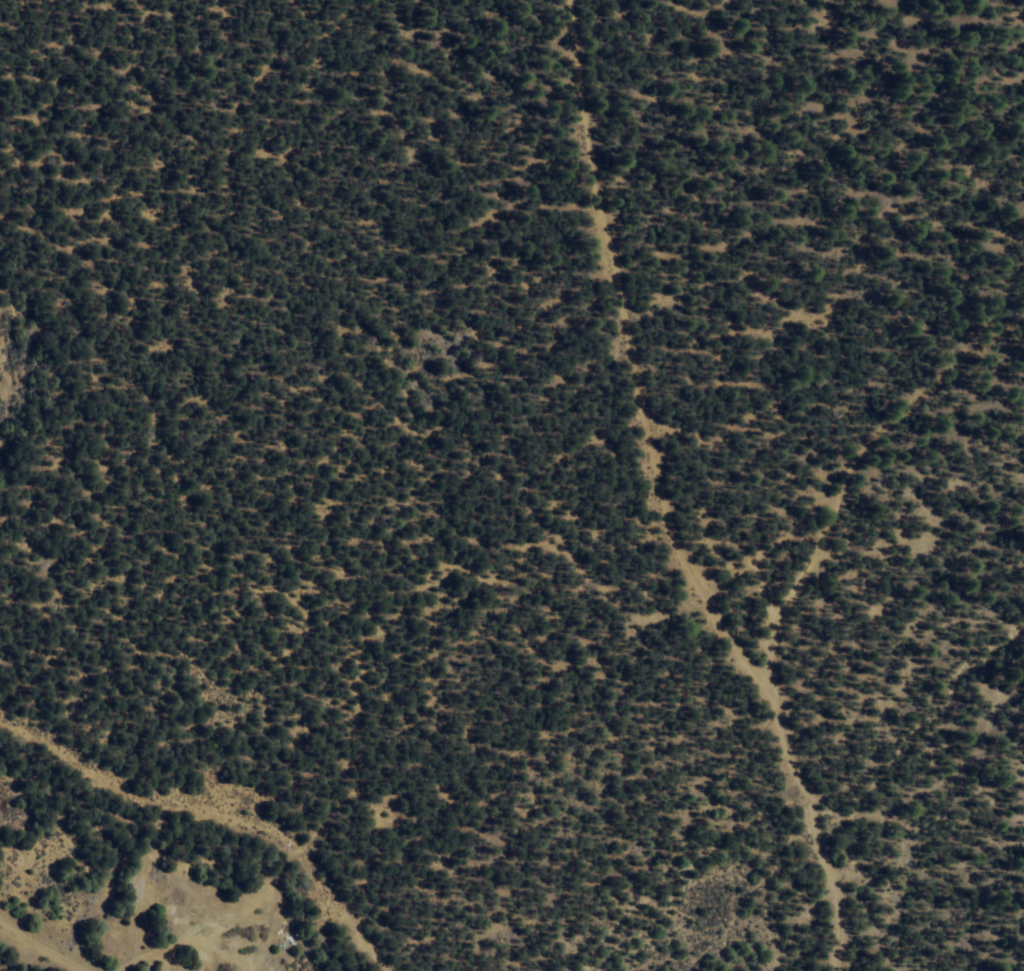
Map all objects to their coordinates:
road: (448, 112)
road: (278, 400)
road: (880, 459)
road: (666, 500)
road: (211, 824)
road: (22, 956)

